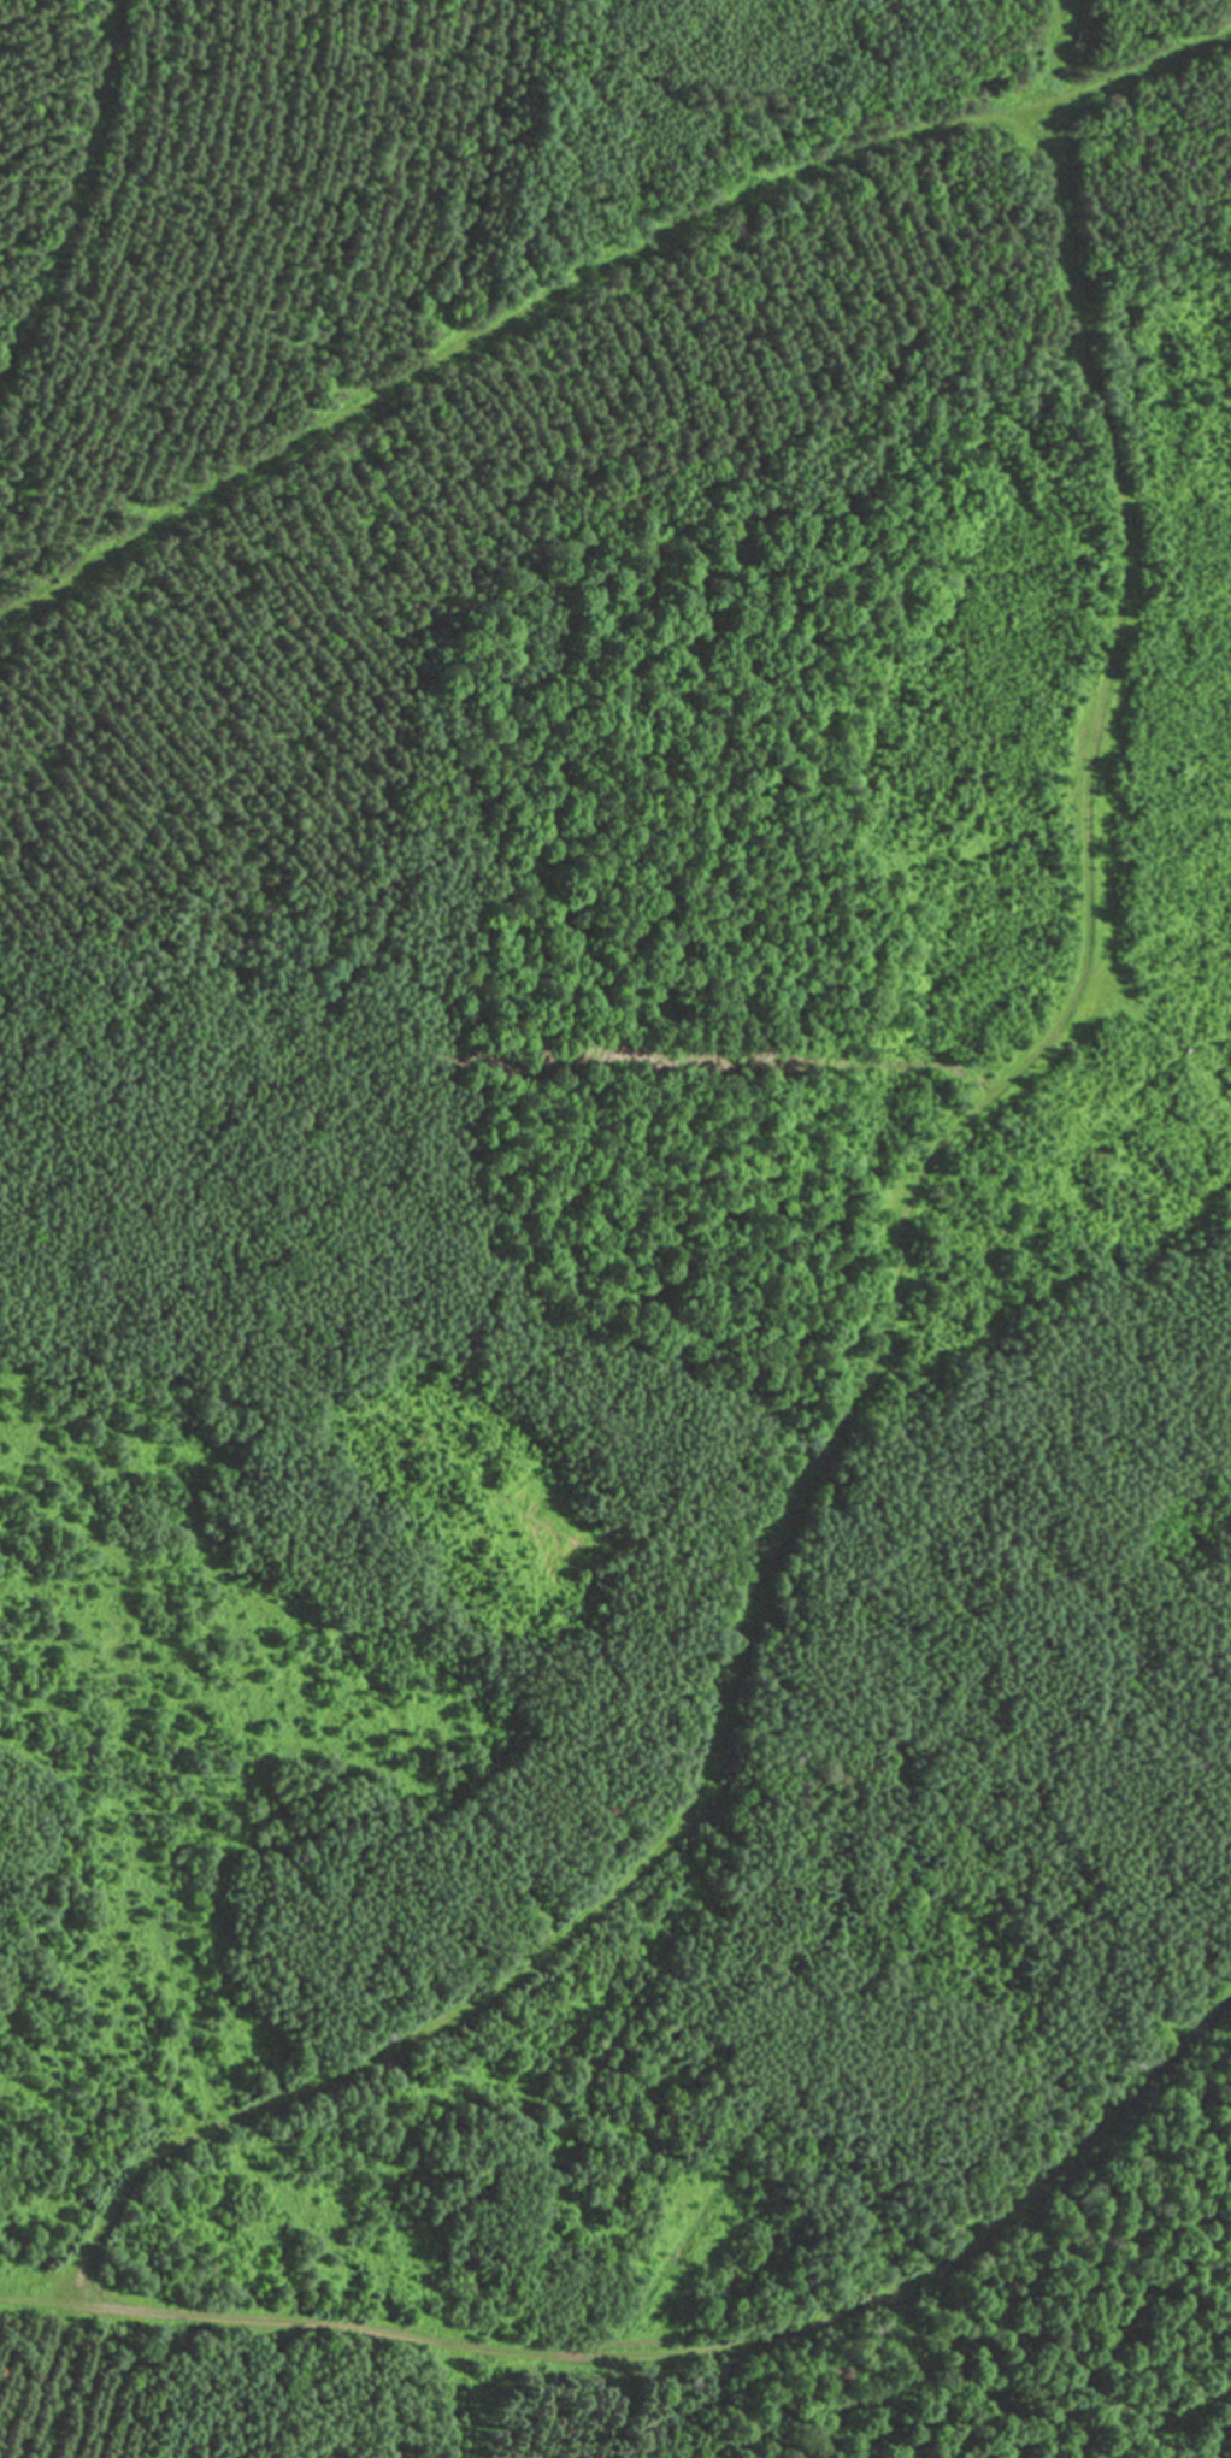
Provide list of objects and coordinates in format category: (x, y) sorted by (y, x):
road: (1053, 49)
road: (1138, 63)
road: (69, 189)
road: (503, 319)
road: (891, 1346)
road: (675, 2351)

